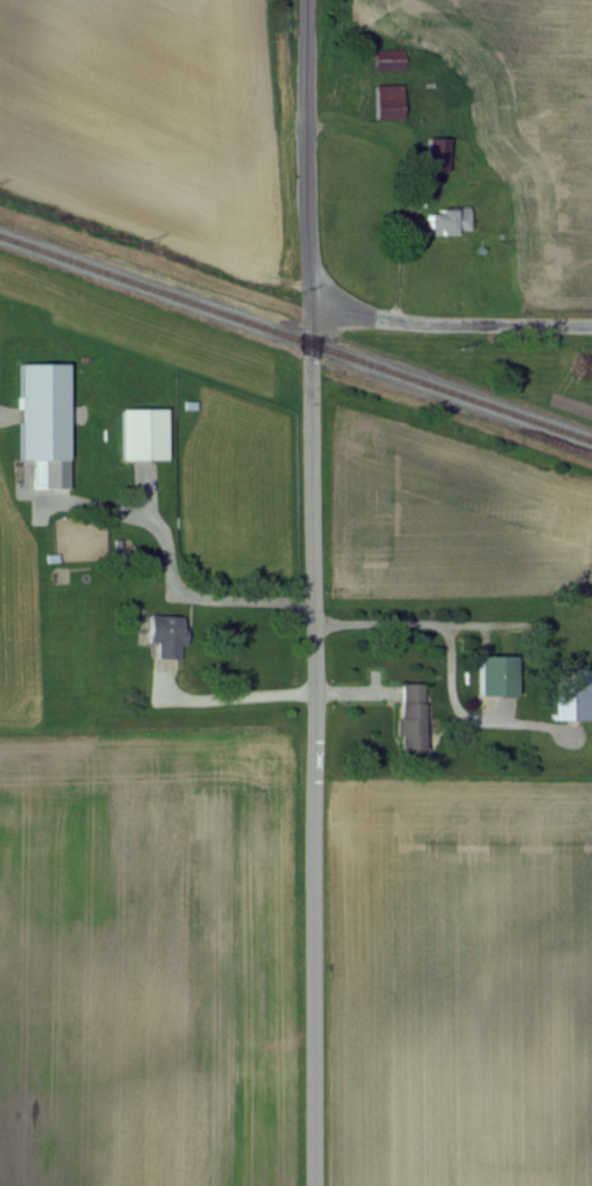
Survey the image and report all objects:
building: (390, 59)
building: (390, 100)
building: (439, 153)
building: (450, 220)
road: (451, 328)
railway: (296, 339)
building: (45, 420)
building: (144, 432)
road: (167, 580)
road: (313, 592)
road: (440, 632)
building: (166, 633)
building: (499, 674)
road: (228, 695)
building: (576, 695)
building: (411, 715)

